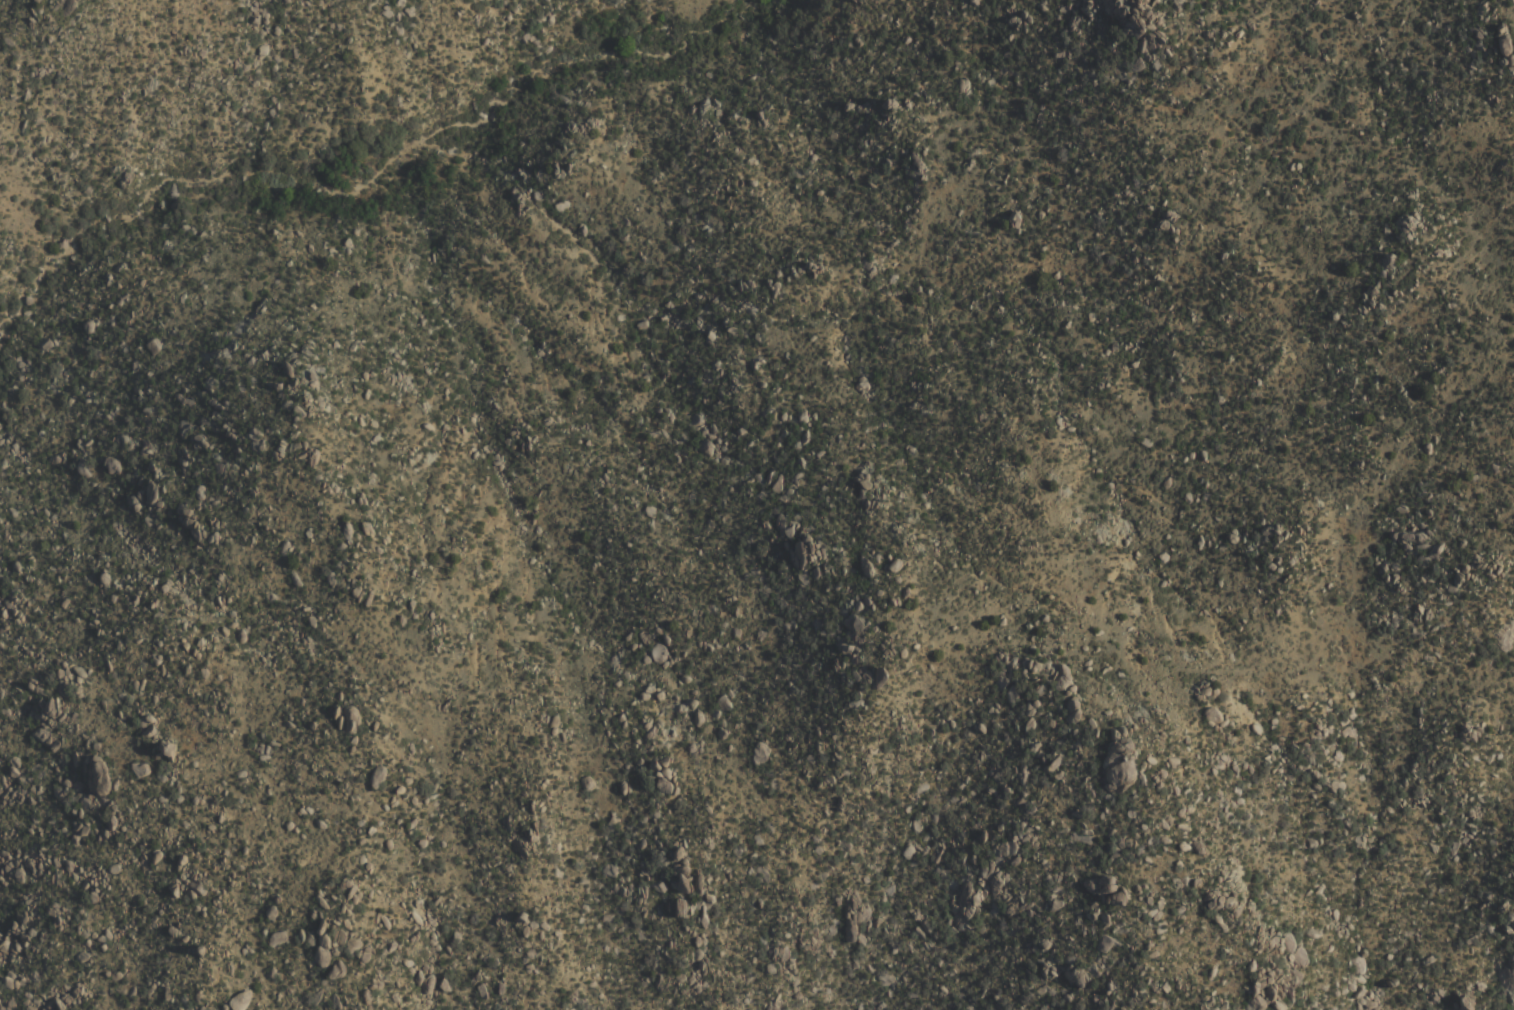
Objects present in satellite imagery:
building: (1106, 883)

